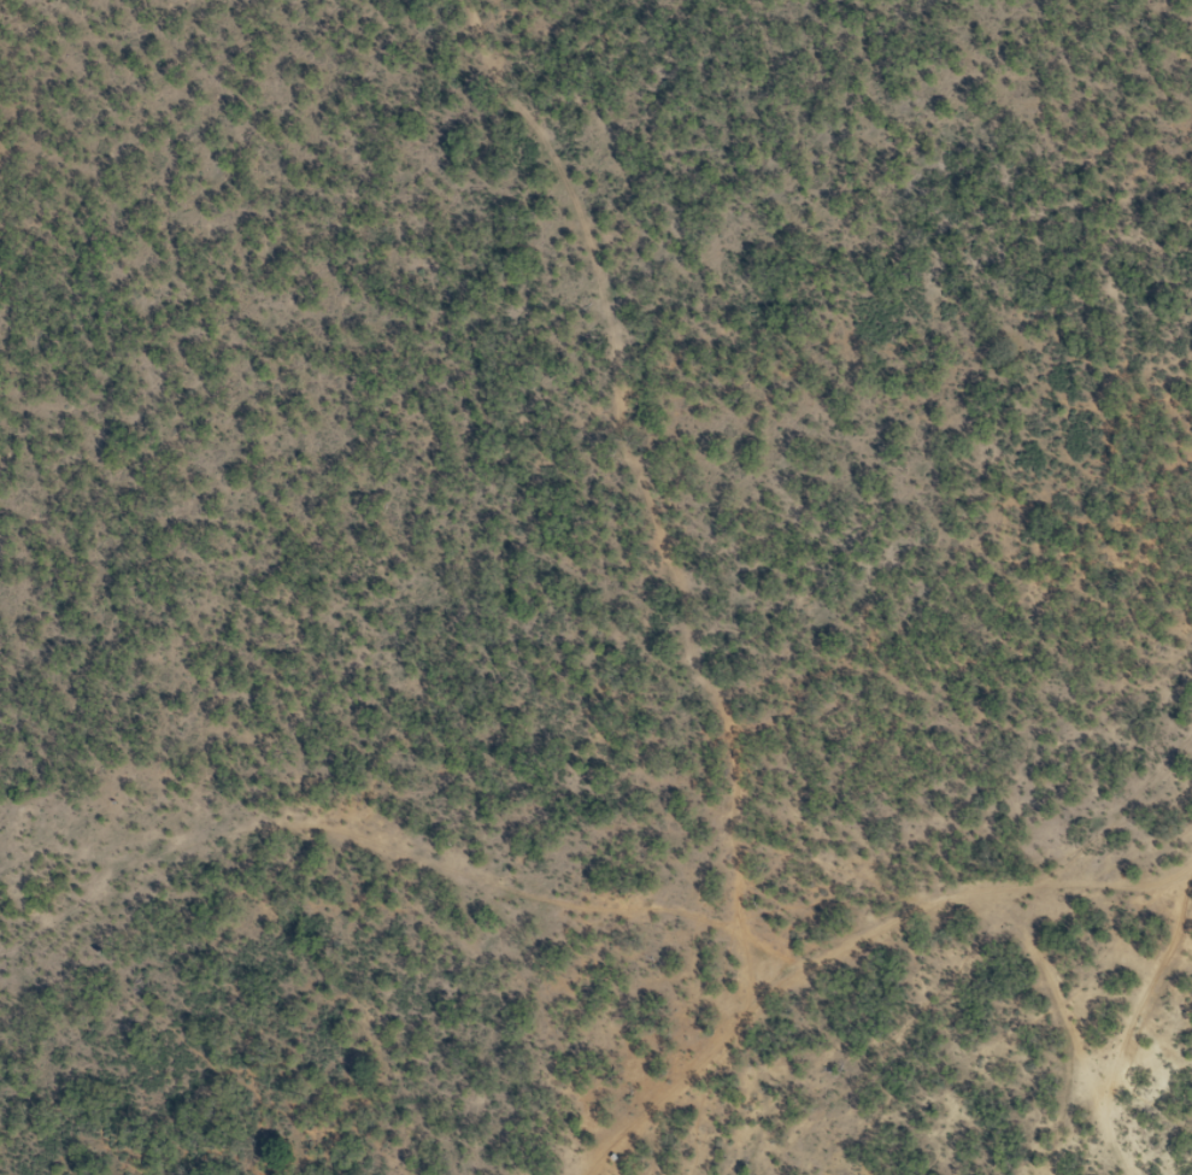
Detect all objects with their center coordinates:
road: (882, 970)

